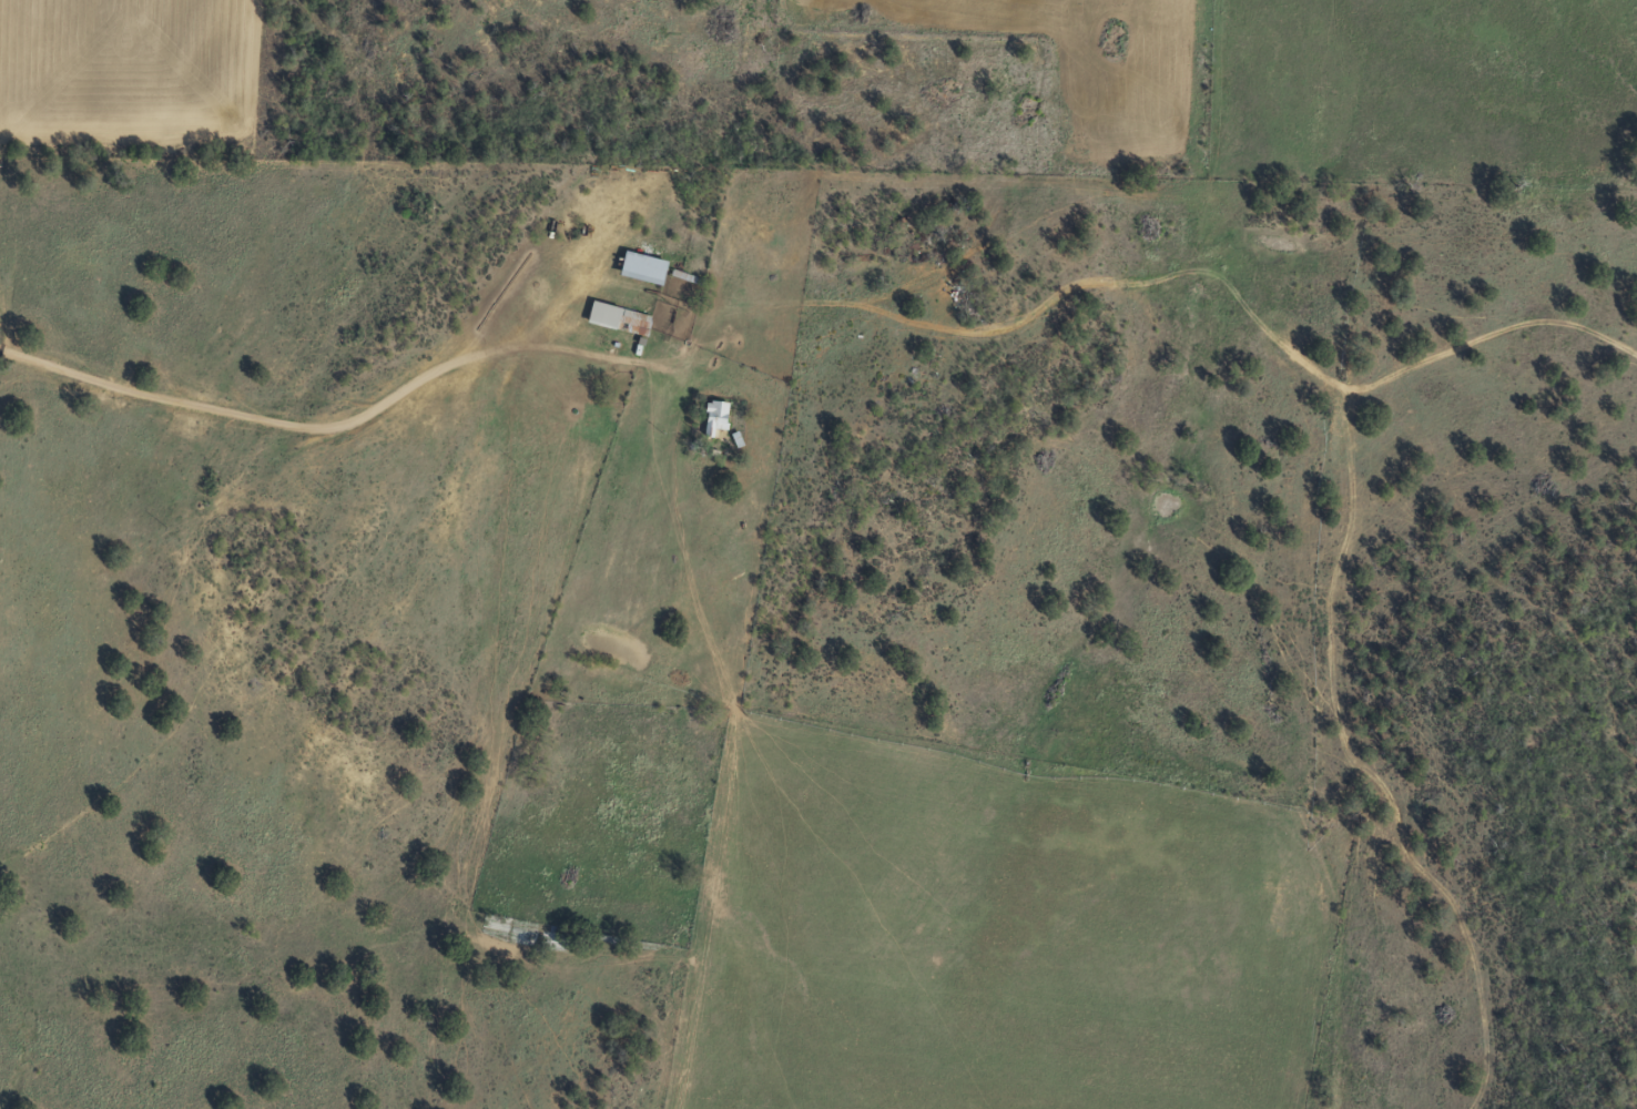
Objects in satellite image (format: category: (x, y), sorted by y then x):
road: (1, 63)
building: (644, 268)
road: (820, 312)
building: (619, 319)
road: (604, 383)
building: (714, 417)

